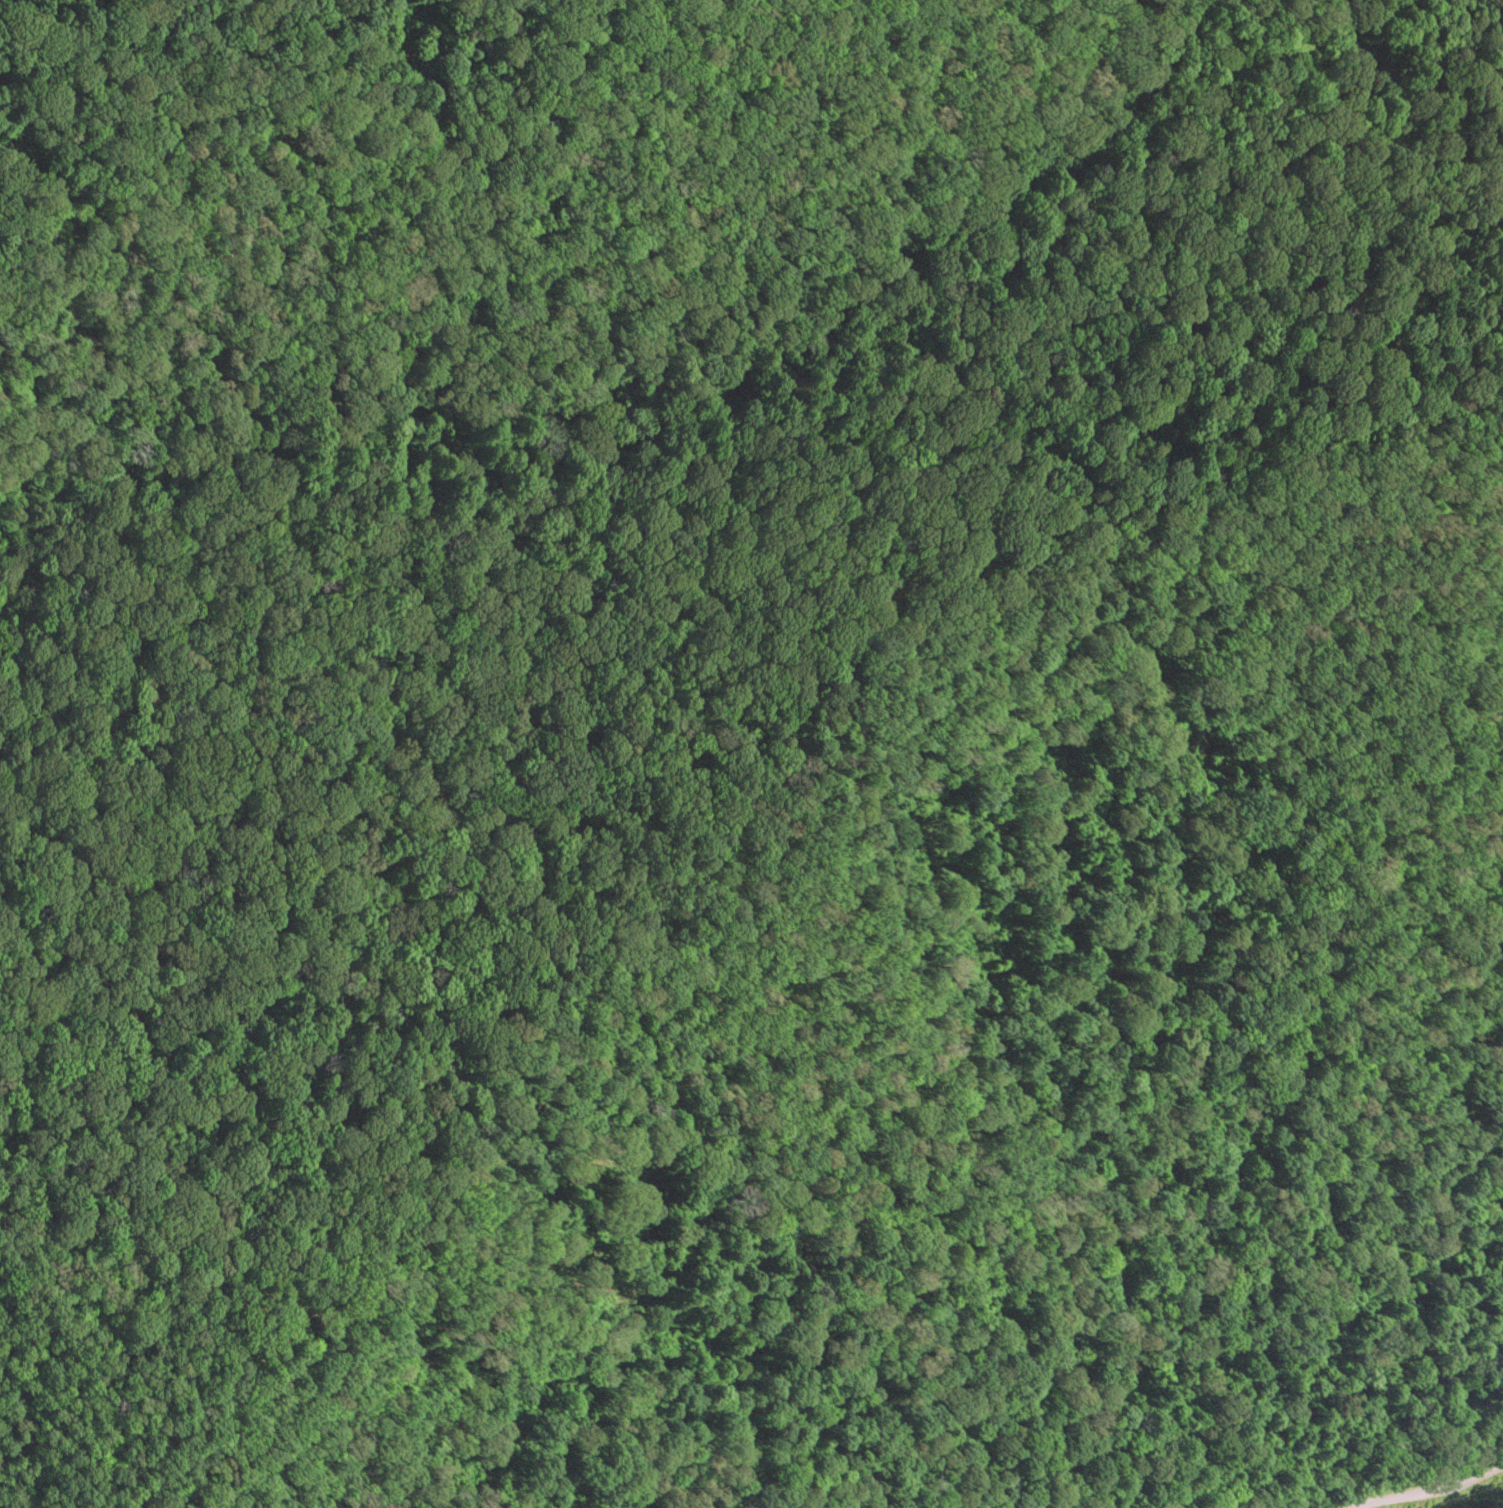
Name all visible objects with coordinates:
road: (1422, 1483)

